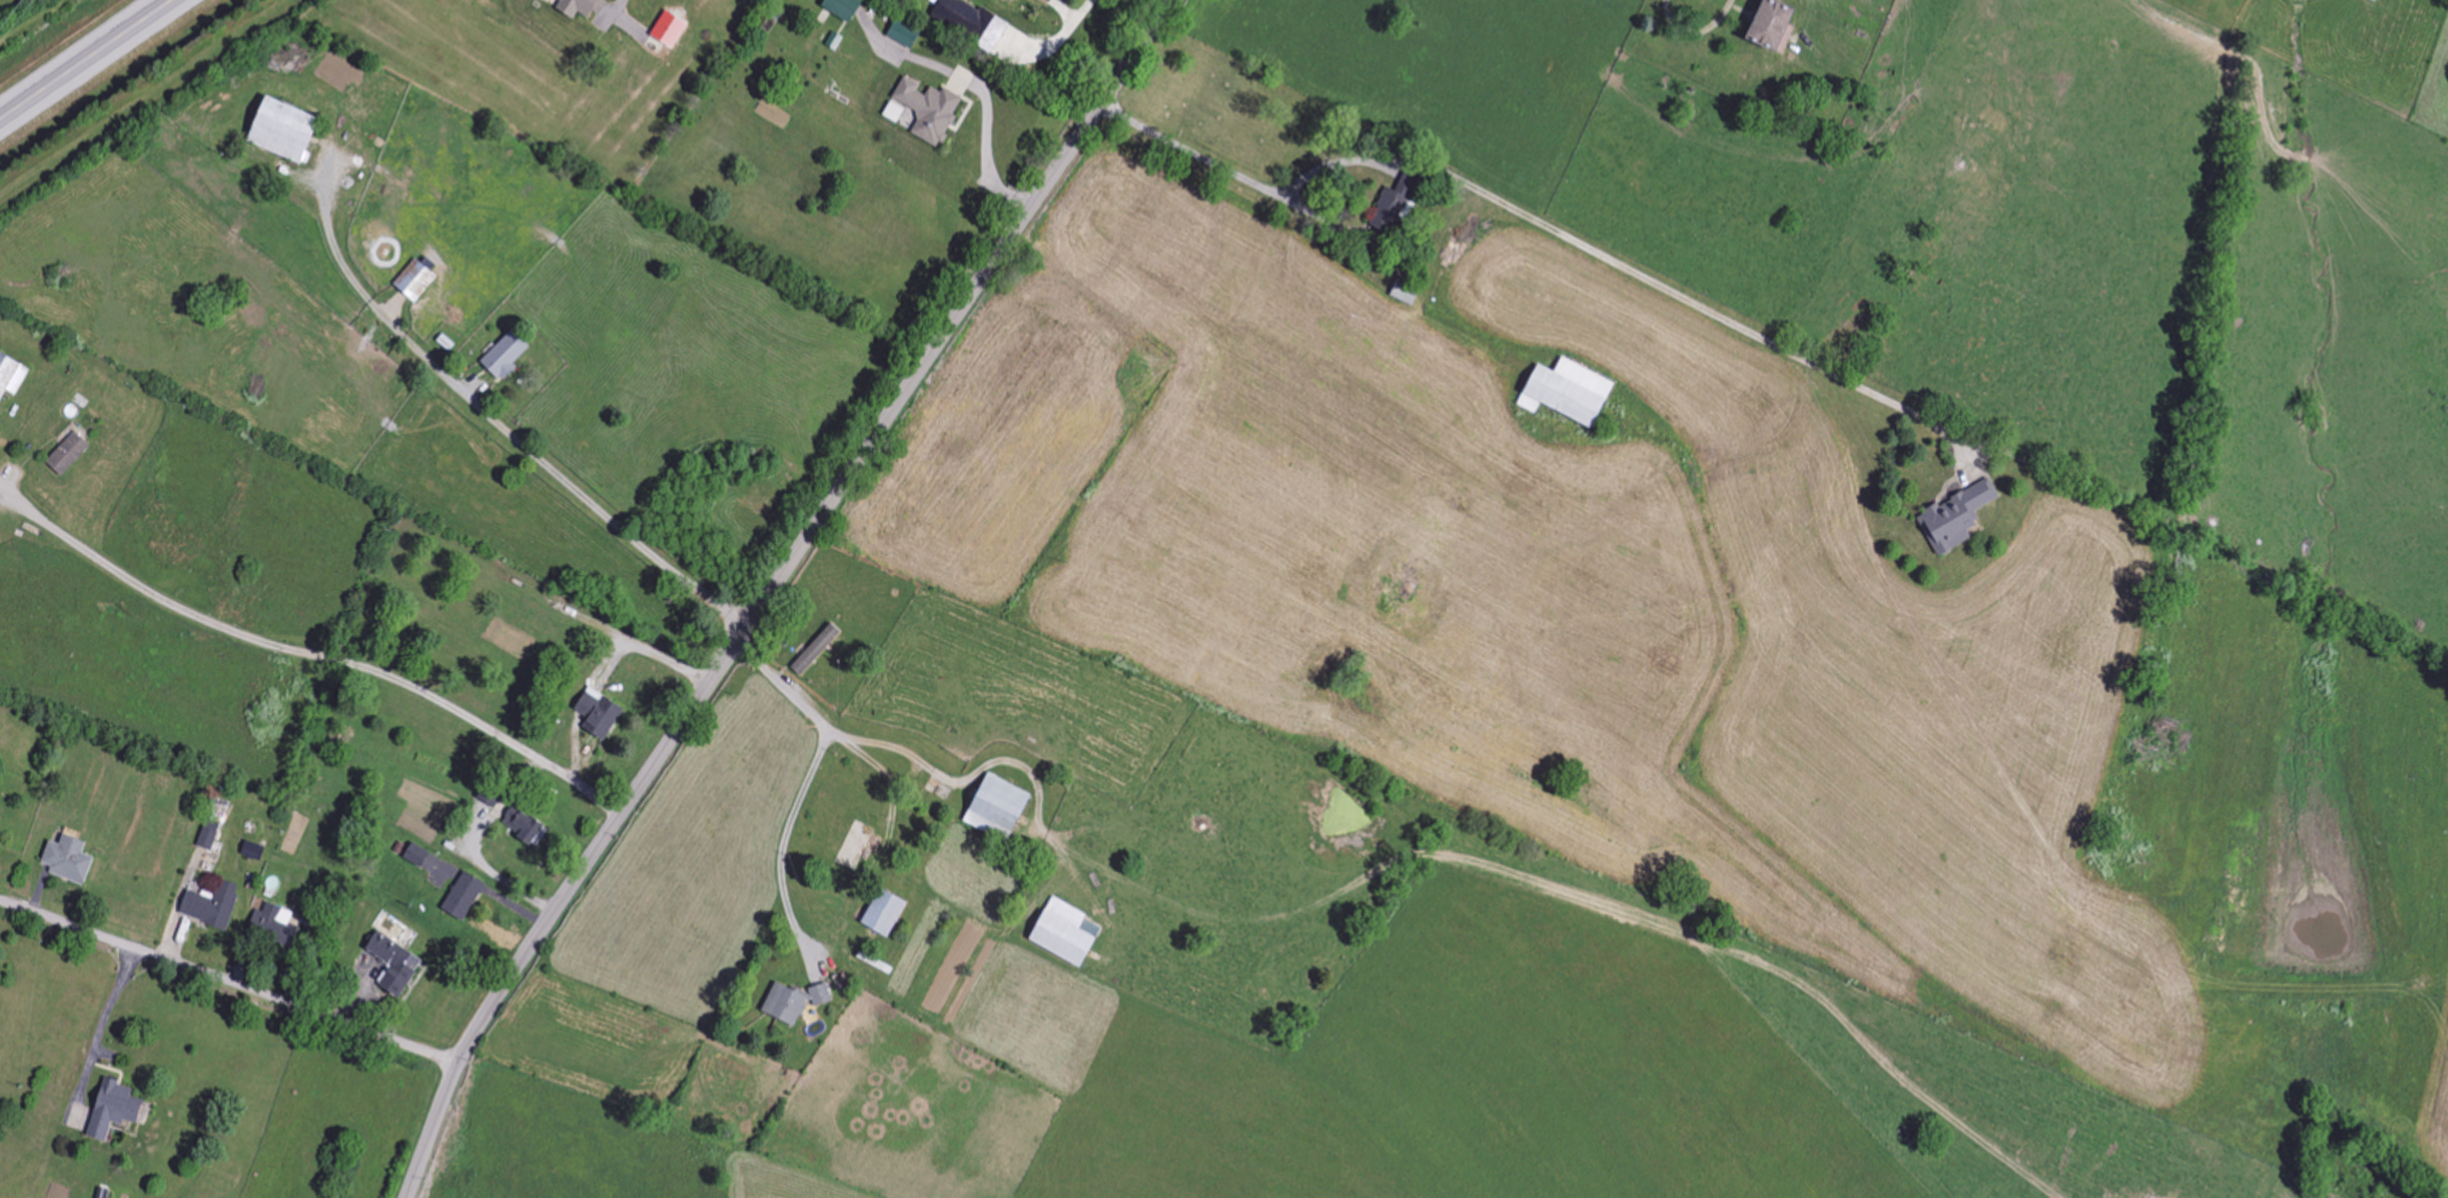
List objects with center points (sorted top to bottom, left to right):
building: (1066, 0)
building: (586, 7)
building: (841, 8)
building: (968, 23)
building: (1767, 26)
road: (1693, 29)
building: (676, 30)
building: (902, 34)
building: (1021, 48)
road: (85, 59)
road: (984, 102)
building: (926, 111)
building: (296, 131)
building: (1385, 210)
road: (1546, 226)
building: (422, 280)
building: (512, 357)
building: (13, 378)
building: (1561, 392)
building: (73, 455)
road: (604, 517)
building: (1954, 517)
road: (773, 591)
road: (315, 647)
building: (814, 651)
building: (605, 714)
road: (804, 784)
building: (494, 793)
building: (991, 806)
building: (528, 826)
building: (213, 837)
building: (257, 852)
building: (422, 856)
building: (76, 861)
building: (468, 897)
building: (219, 906)
building: (878, 914)
building: (1087, 930)
building: (1057, 932)
building: (399, 966)
road: (230, 983)
building: (818, 996)
road: (108, 1004)
building: (782, 1004)
building: (123, 1110)

